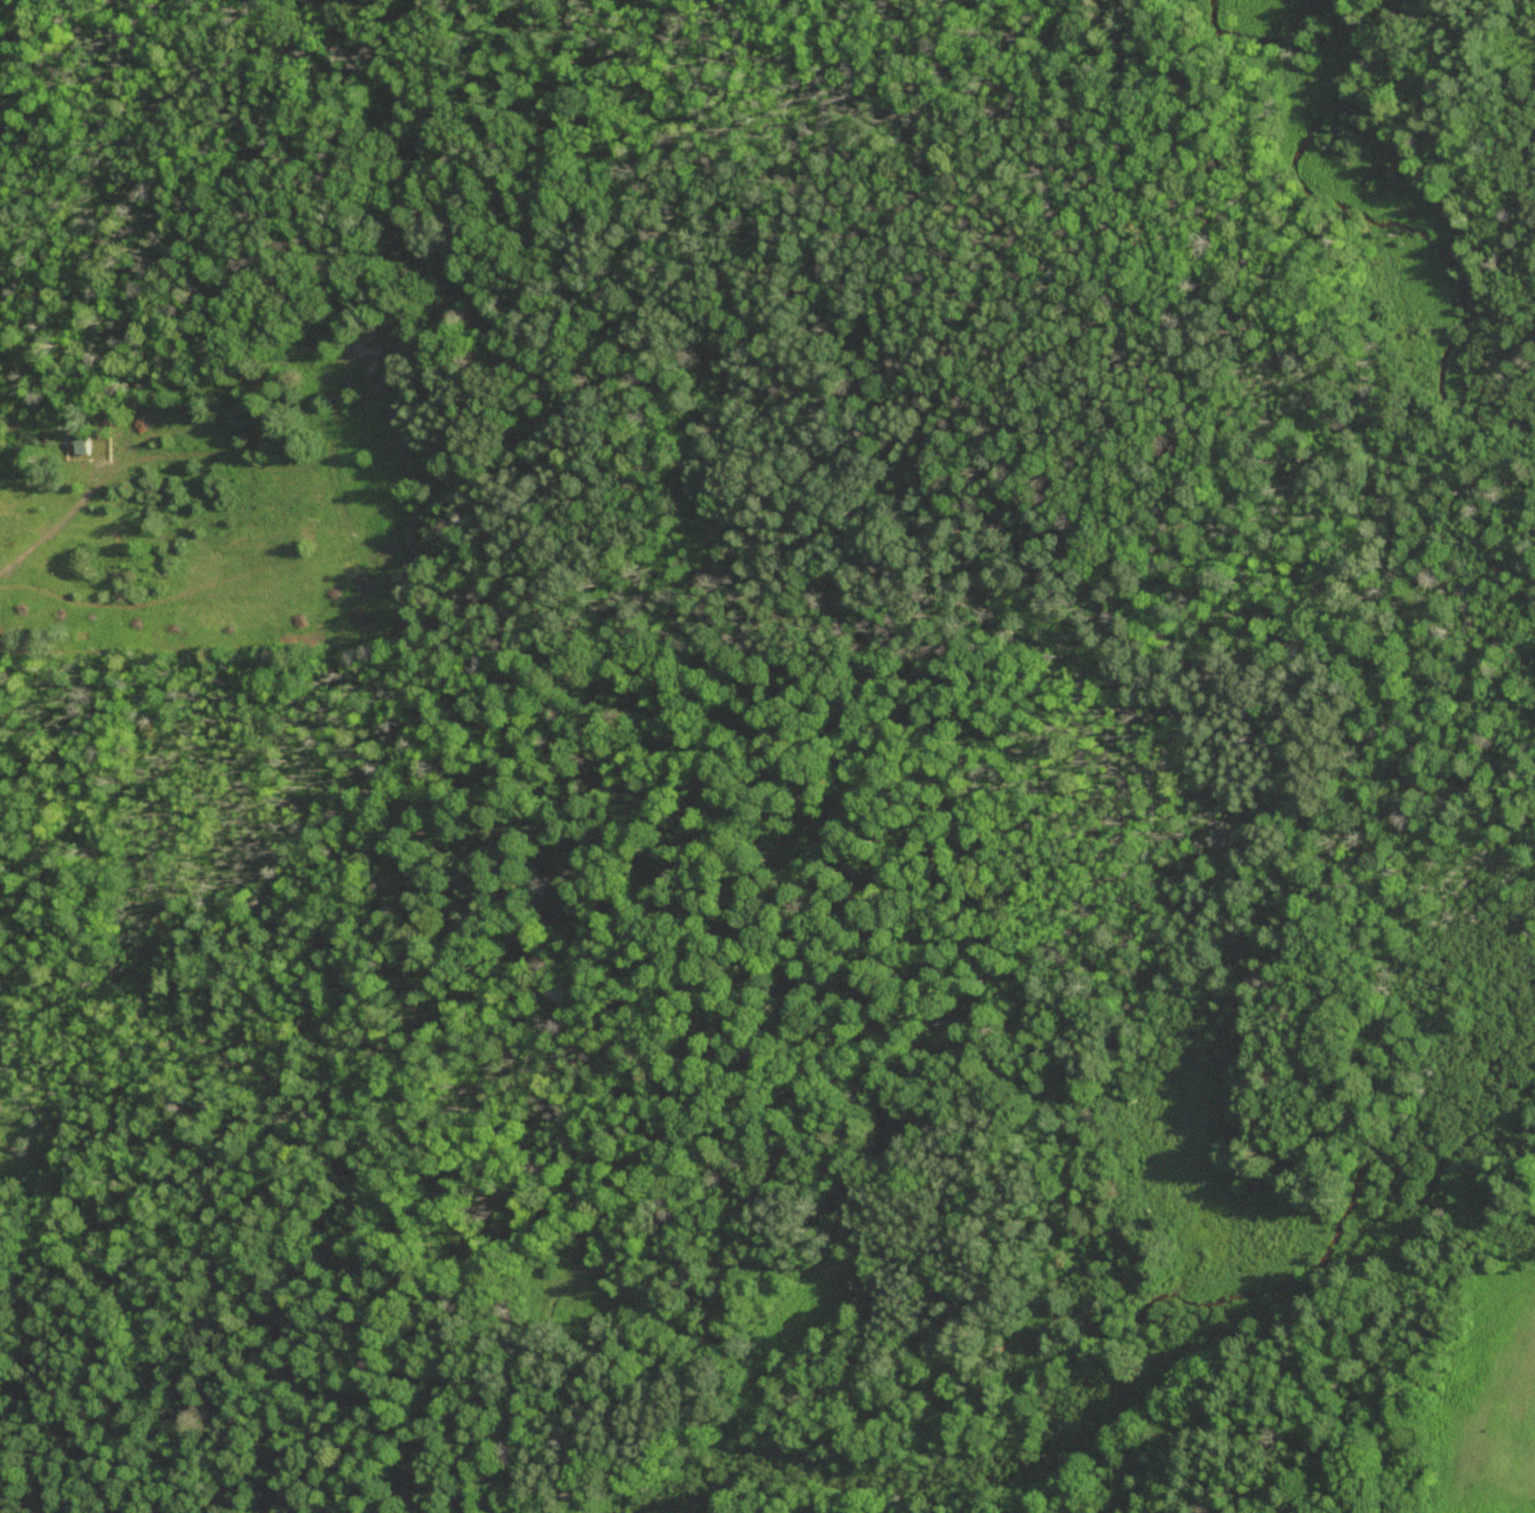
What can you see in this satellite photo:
building: (84, 445)

